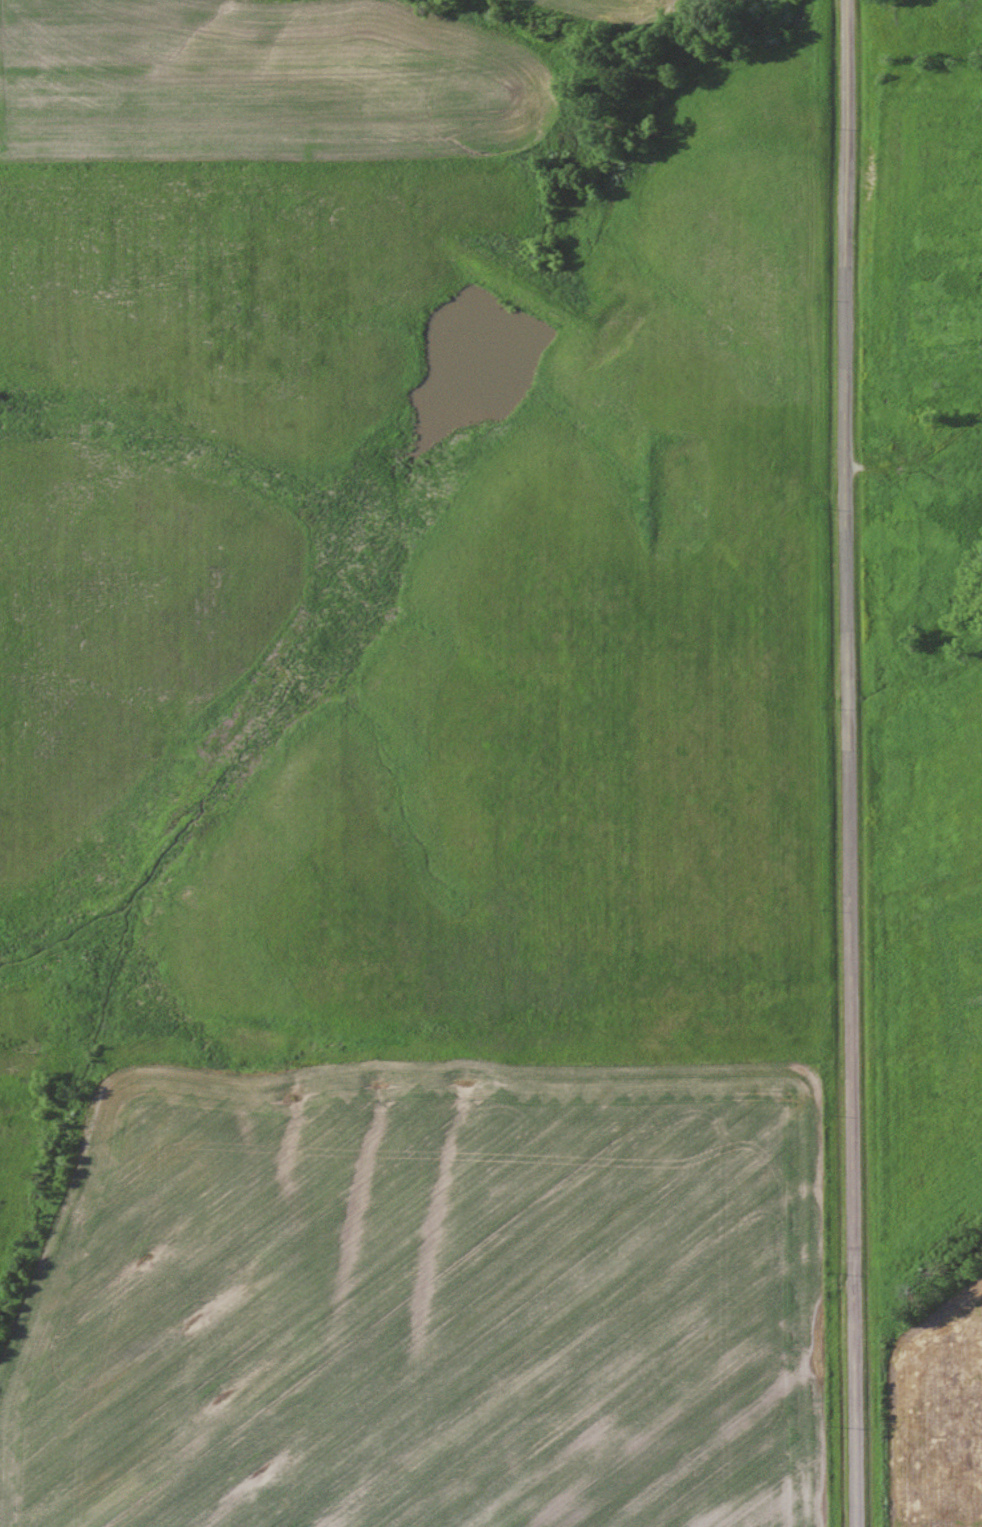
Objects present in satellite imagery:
road: (851, 763)

